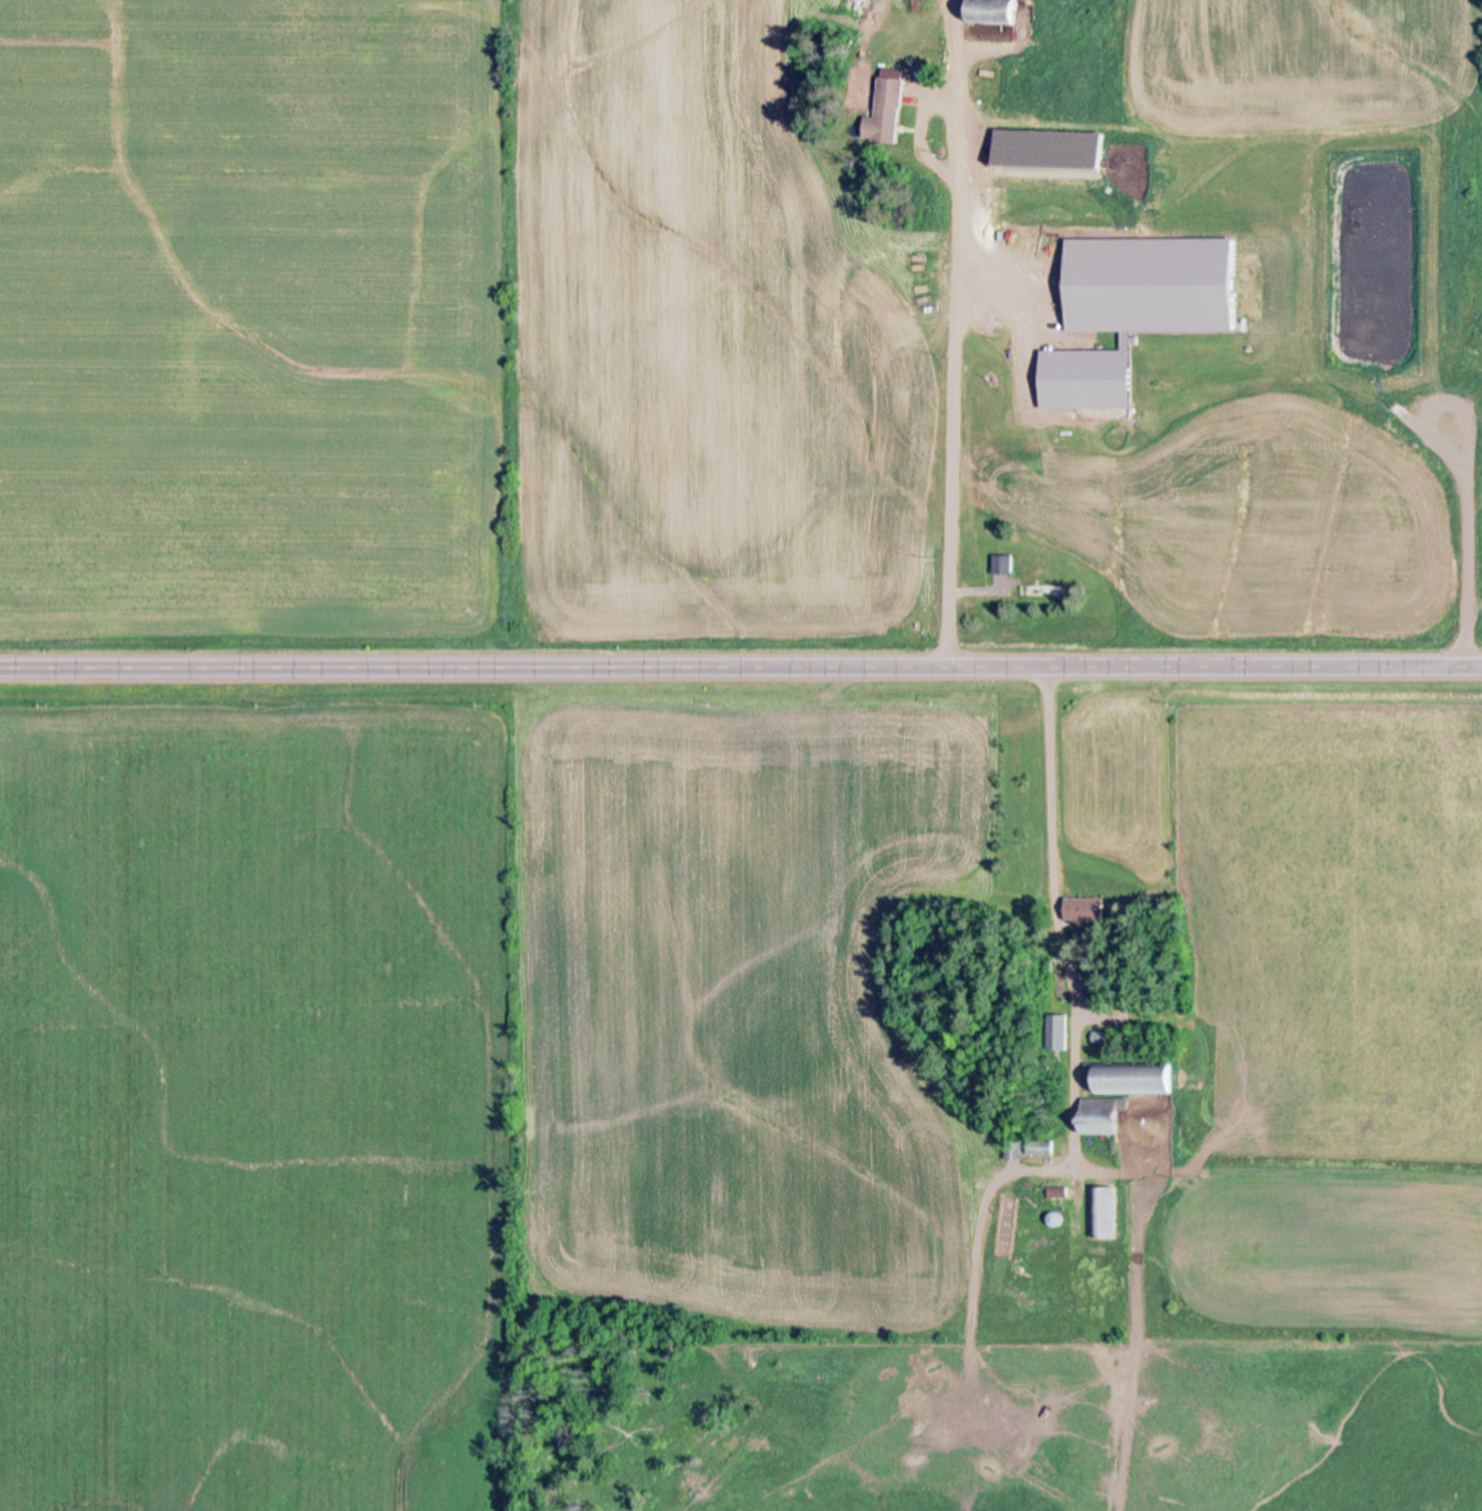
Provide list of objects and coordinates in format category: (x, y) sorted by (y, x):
building: (996, 11)
building: (890, 110)
building: (1058, 153)
building: (1136, 308)
road: (965, 374)
building: (1004, 564)
road: (740, 671)
building: (1088, 909)
building: (1060, 1031)
building: (1135, 1077)
building: (1104, 1114)
building: (1044, 1147)
building: (1016, 1149)
building: (1060, 1190)
building: (1105, 1212)

